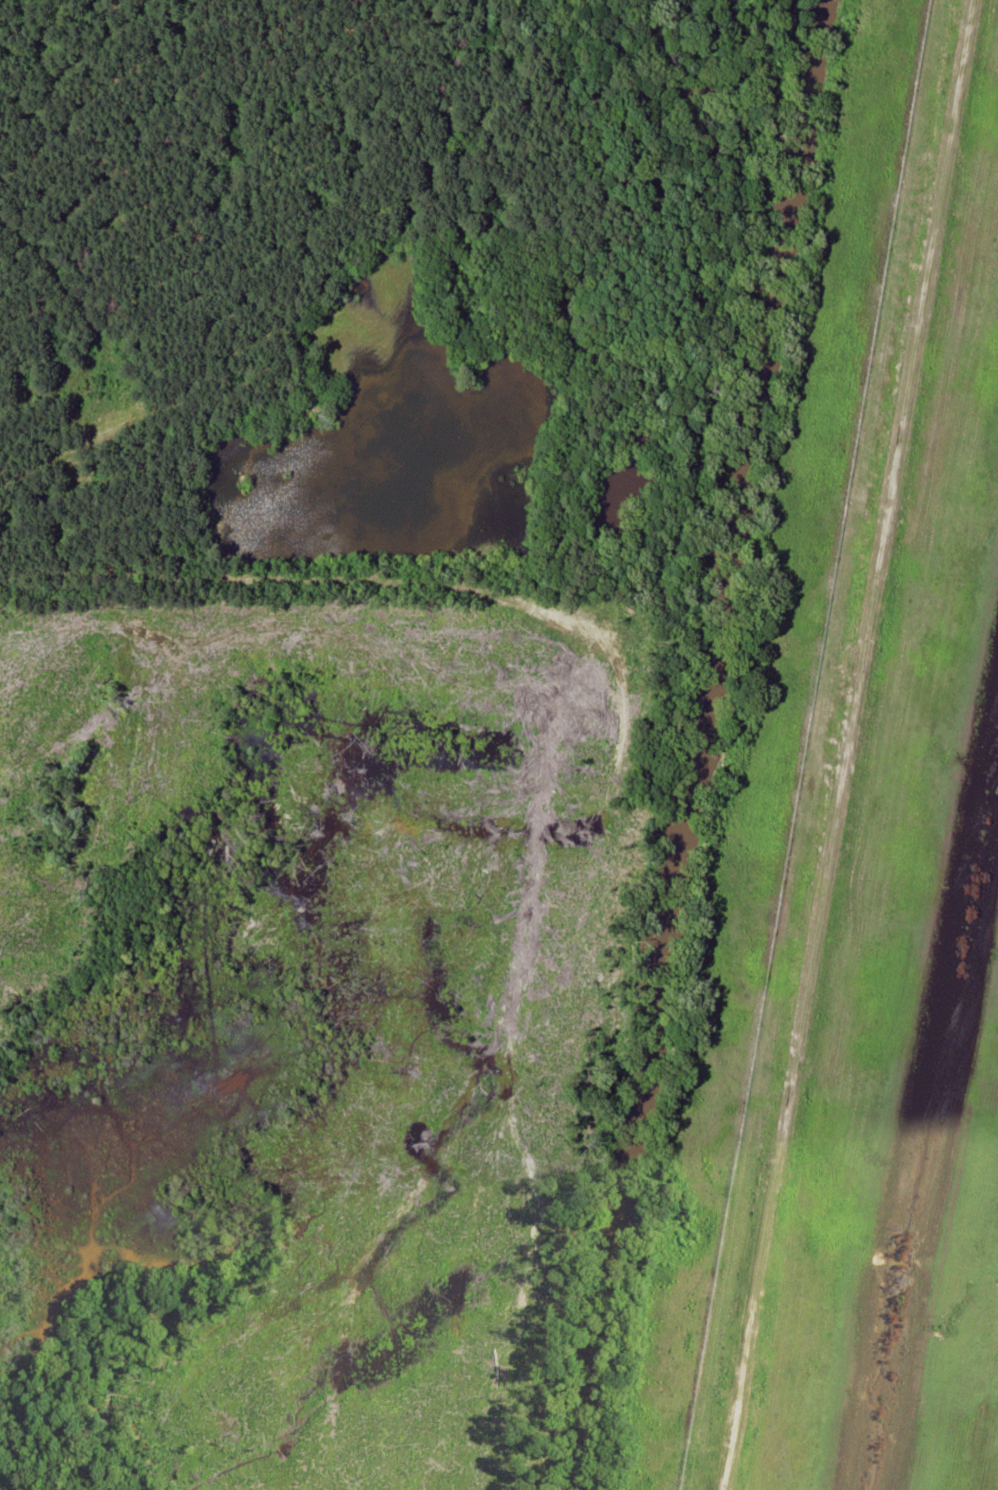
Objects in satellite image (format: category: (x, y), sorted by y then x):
river: (697, 743)
airport: (890, 910)

